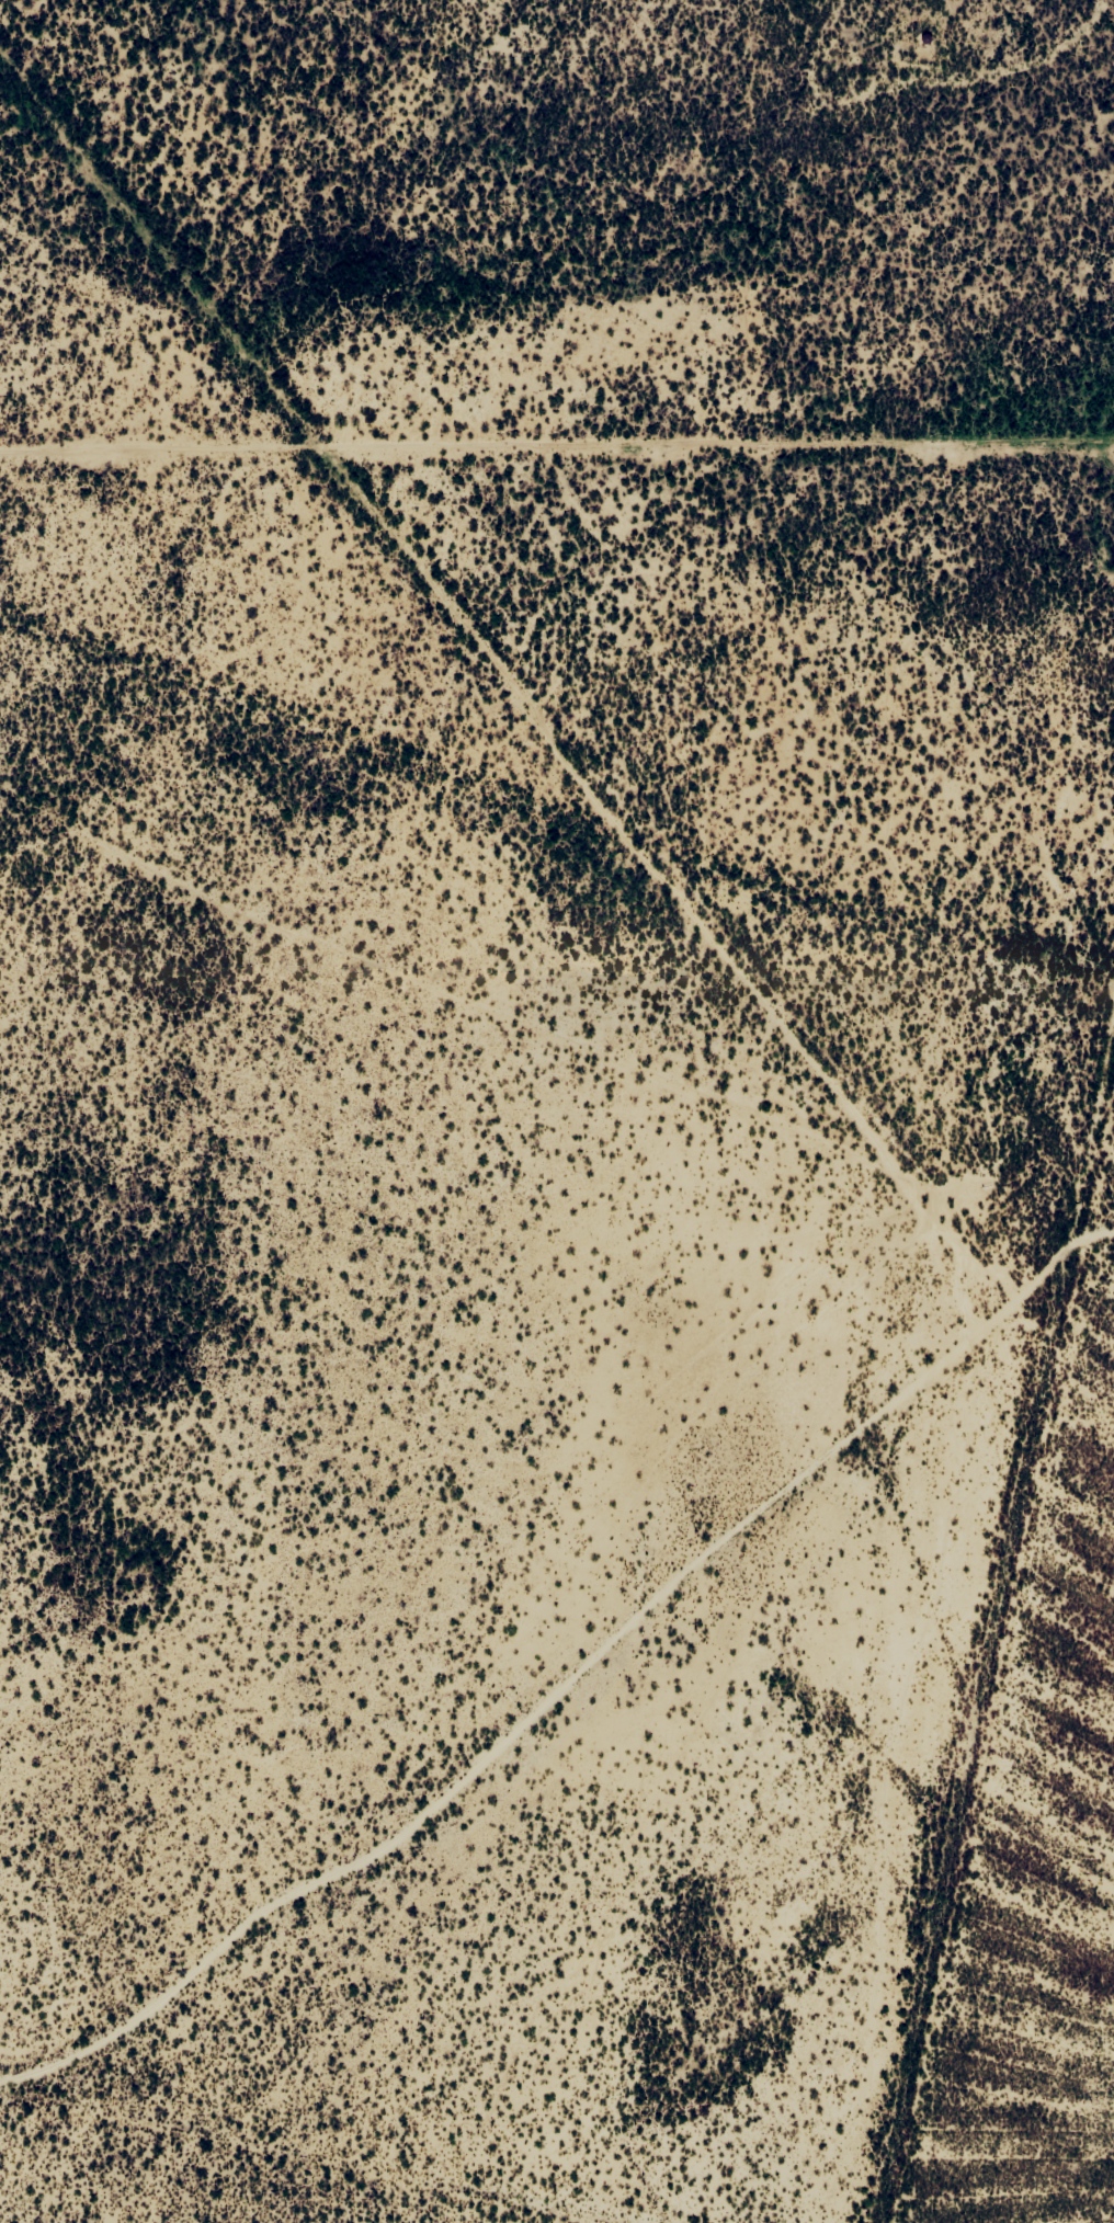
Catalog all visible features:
road: (1003, 72)
road: (292, 2159)

